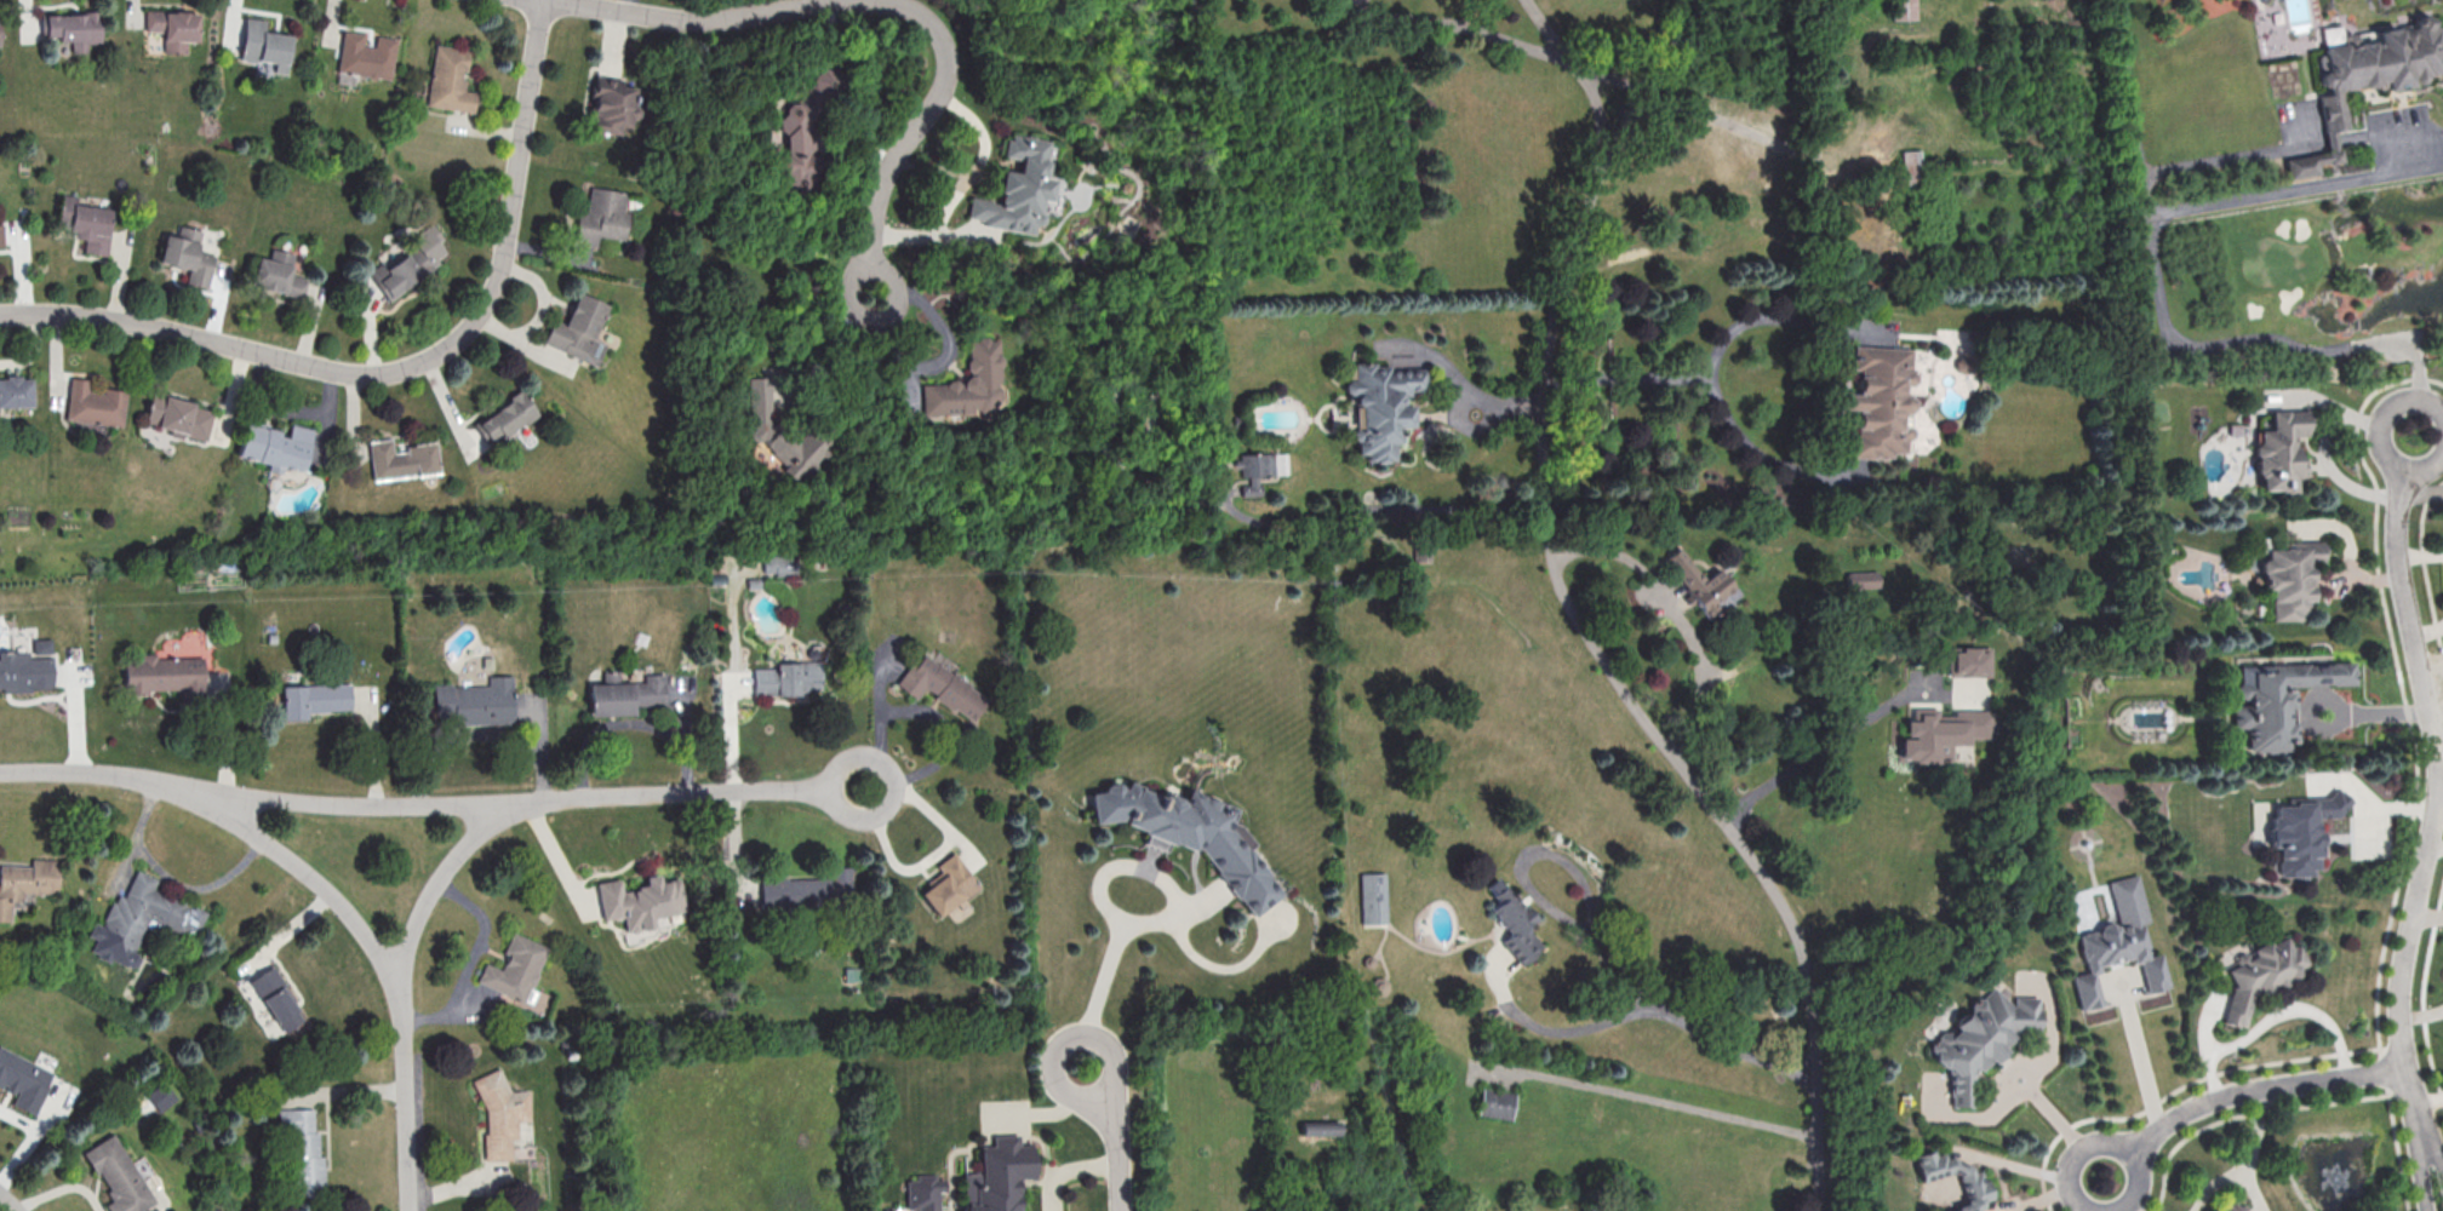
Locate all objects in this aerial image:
road: (888, 6)
building: (1903, 8)
building: (74, 28)
building: (173, 28)
road: (1464, 28)
road: (1550, 33)
building: (265, 44)
building: (365, 57)
building: (2367, 75)
road: (1612, 79)
building: (451, 80)
building: (613, 104)
road: (1598, 107)
road: (2133, 113)
road: (1730, 125)
building: (805, 131)
road: (2227, 160)
building: (1911, 166)
building: (1018, 188)
building: (602, 216)
building: (87, 223)
building: (1, 235)
building: (188, 254)
building: (407, 260)
building: (278, 274)
road: (2165, 311)
building: (579, 329)
road: (936, 360)
road: (1707, 363)
road: (406, 366)
building: (968, 383)
road: (1465, 394)
building: (1880, 401)
building: (95, 403)
building: (763, 406)
building: (178, 415)
building: (507, 418)
building: (276, 446)
building: (2281, 450)
road: (1761, 452)
building: (401, 459)
building: (1263, 464)
road: (1378, 506)
road: (1546, 540)
road: (1621, 557)
building: (779, 563)
building: (2292, 576)
building: (1699, 580)
building: (41, 645)
building: (24, 671)
building: (165, 675)
building: (788, 677)
building: (943, 687)
building: (627, 694)
building: (2279, 698)
building: (315, 699)
building: (477, 701)
road: (931, 714)
road: (476, 729)
road: (1818, 748)
road: (2437, 775)
road: (700, 791)
road: (267, 799)
building: (2301, 831)
building: (1188, 834)
road: (937, 850)
road: (557, 860)
building: (27, 884)
building: (949, 884)
road: (435, 889)
building: (811, 889)
building: (640, 901)
building: (141, 920)
building: (1515, 924)
road: (1602, 943)
road: (372, 946)
road: (468, 962)
building: (515, 968)
building: (2261, 976)
road: (1102, 977)
road: (1557, 1029)
building: (1984, 1037)
road: (2145, 1061)
road: (1810, 1072)
building: (24, 1079)
road: (2237, 1090)
road: (1663, 1106)
building: (502, 1113)
road: (1118, 1135)
road: (2431, 1137)
building: (304, 1154)
road: (2018, 1164)
road: (2418, 1166)
road: (1065, 1169)
building: (119, 1175)
building: (999, 1175)
building: (1967, 1183)
road: (61, 1189)
building: (925, 1192)
road: (7, 1203)
building: (2232, 1206)

